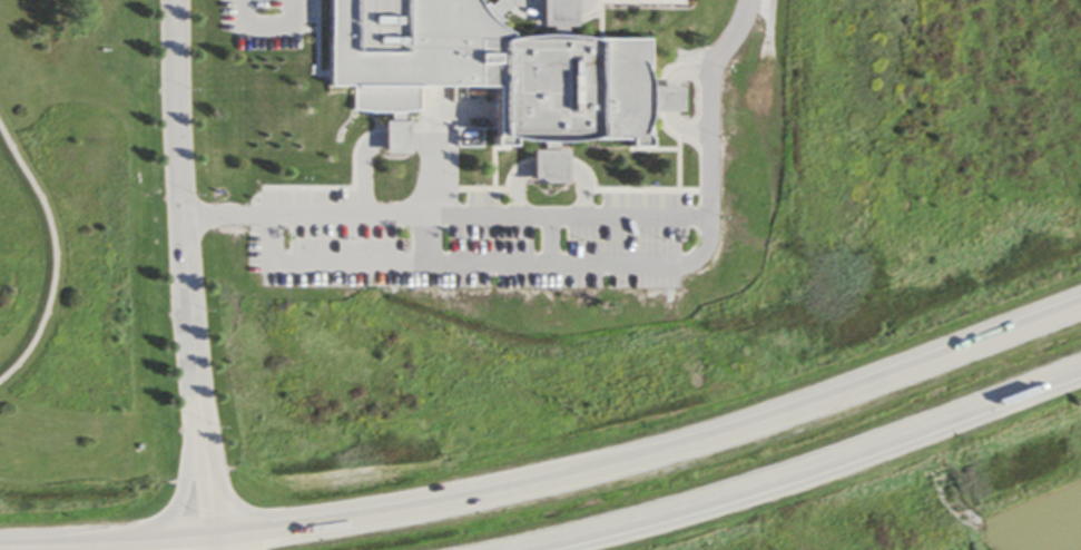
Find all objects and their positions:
road: (265, 21)
building: (405, 51)
building: (564, 88)
road: (662, 95)
road: (178, 108)
road: (400, 137)
road: (549, 166)
road: (439, 170)
road: (365, 173)
road: (586, 188)
road: (518, 189)
road: (559, 218)
road: (550, 240)
road: (53, 253)
road: (484, 263)
road: (190, 305)
road: (655, 452)
road: (206, 464)
road: (794, 466)
road: (187, 473)
road: (180, 537)
road: (73, 542)
road: (214, 542)

